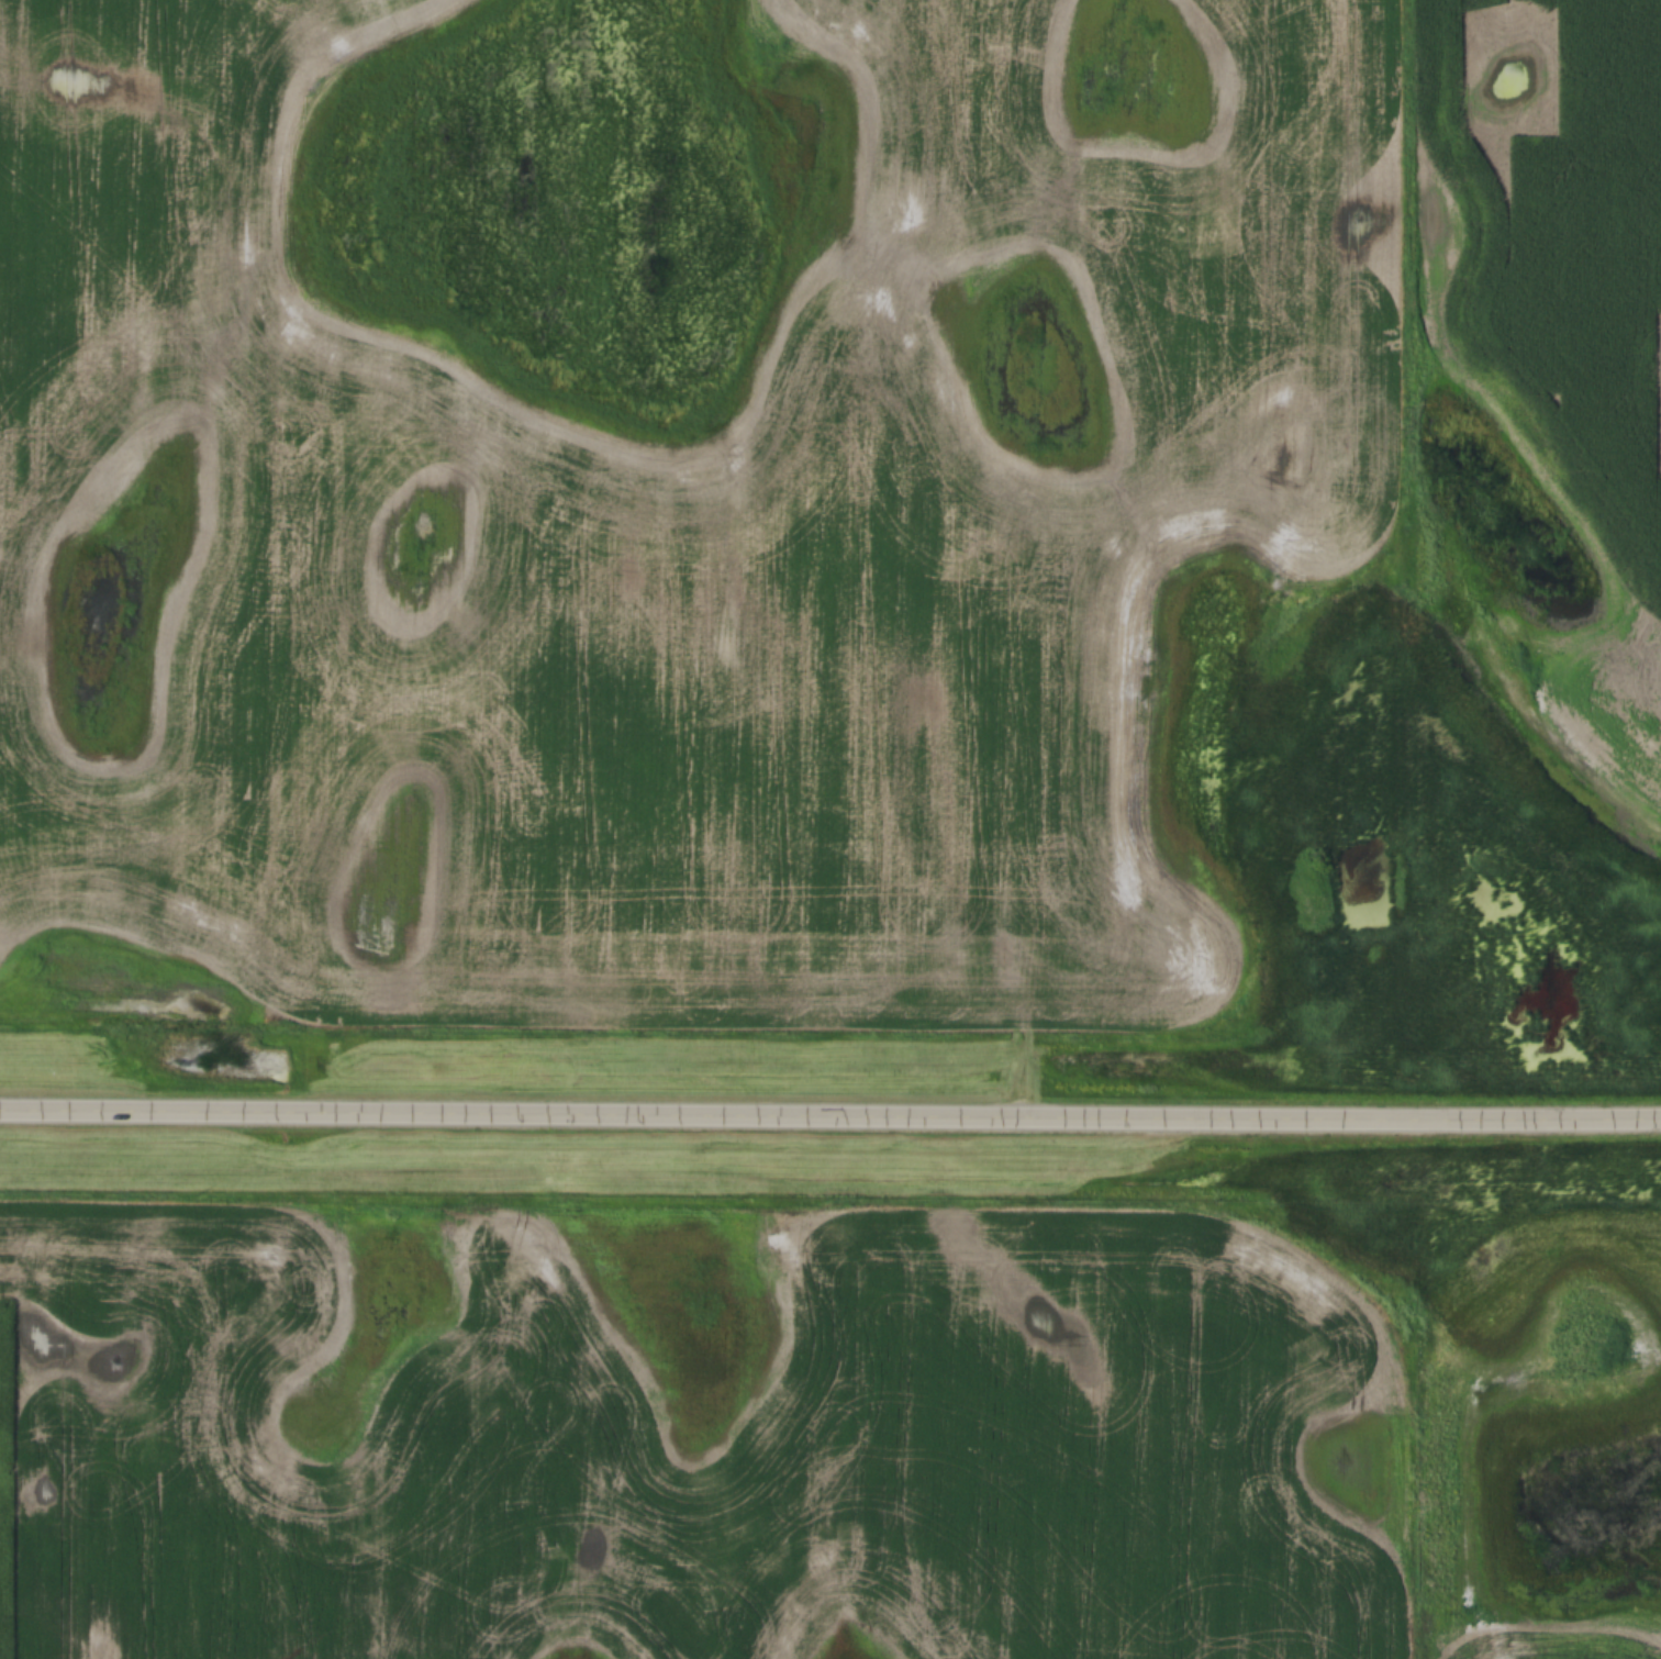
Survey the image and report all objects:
road: (830, 1124)

